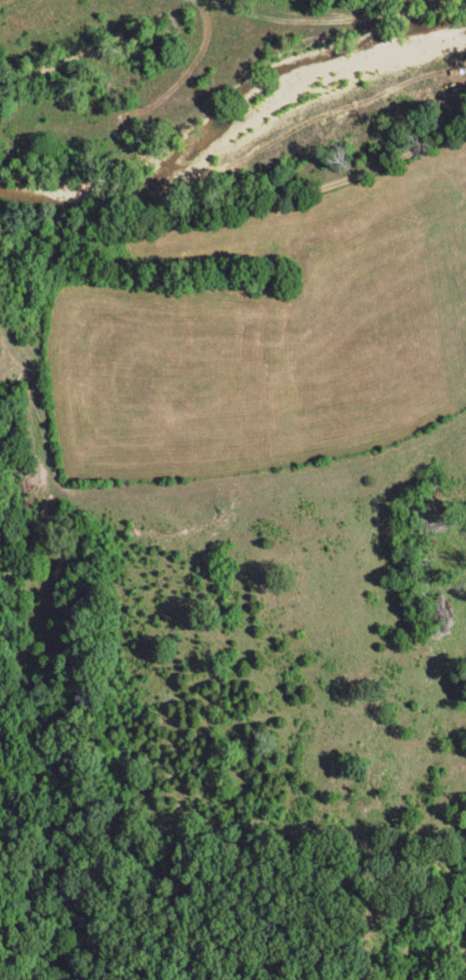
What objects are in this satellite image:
road: (239, 203)

